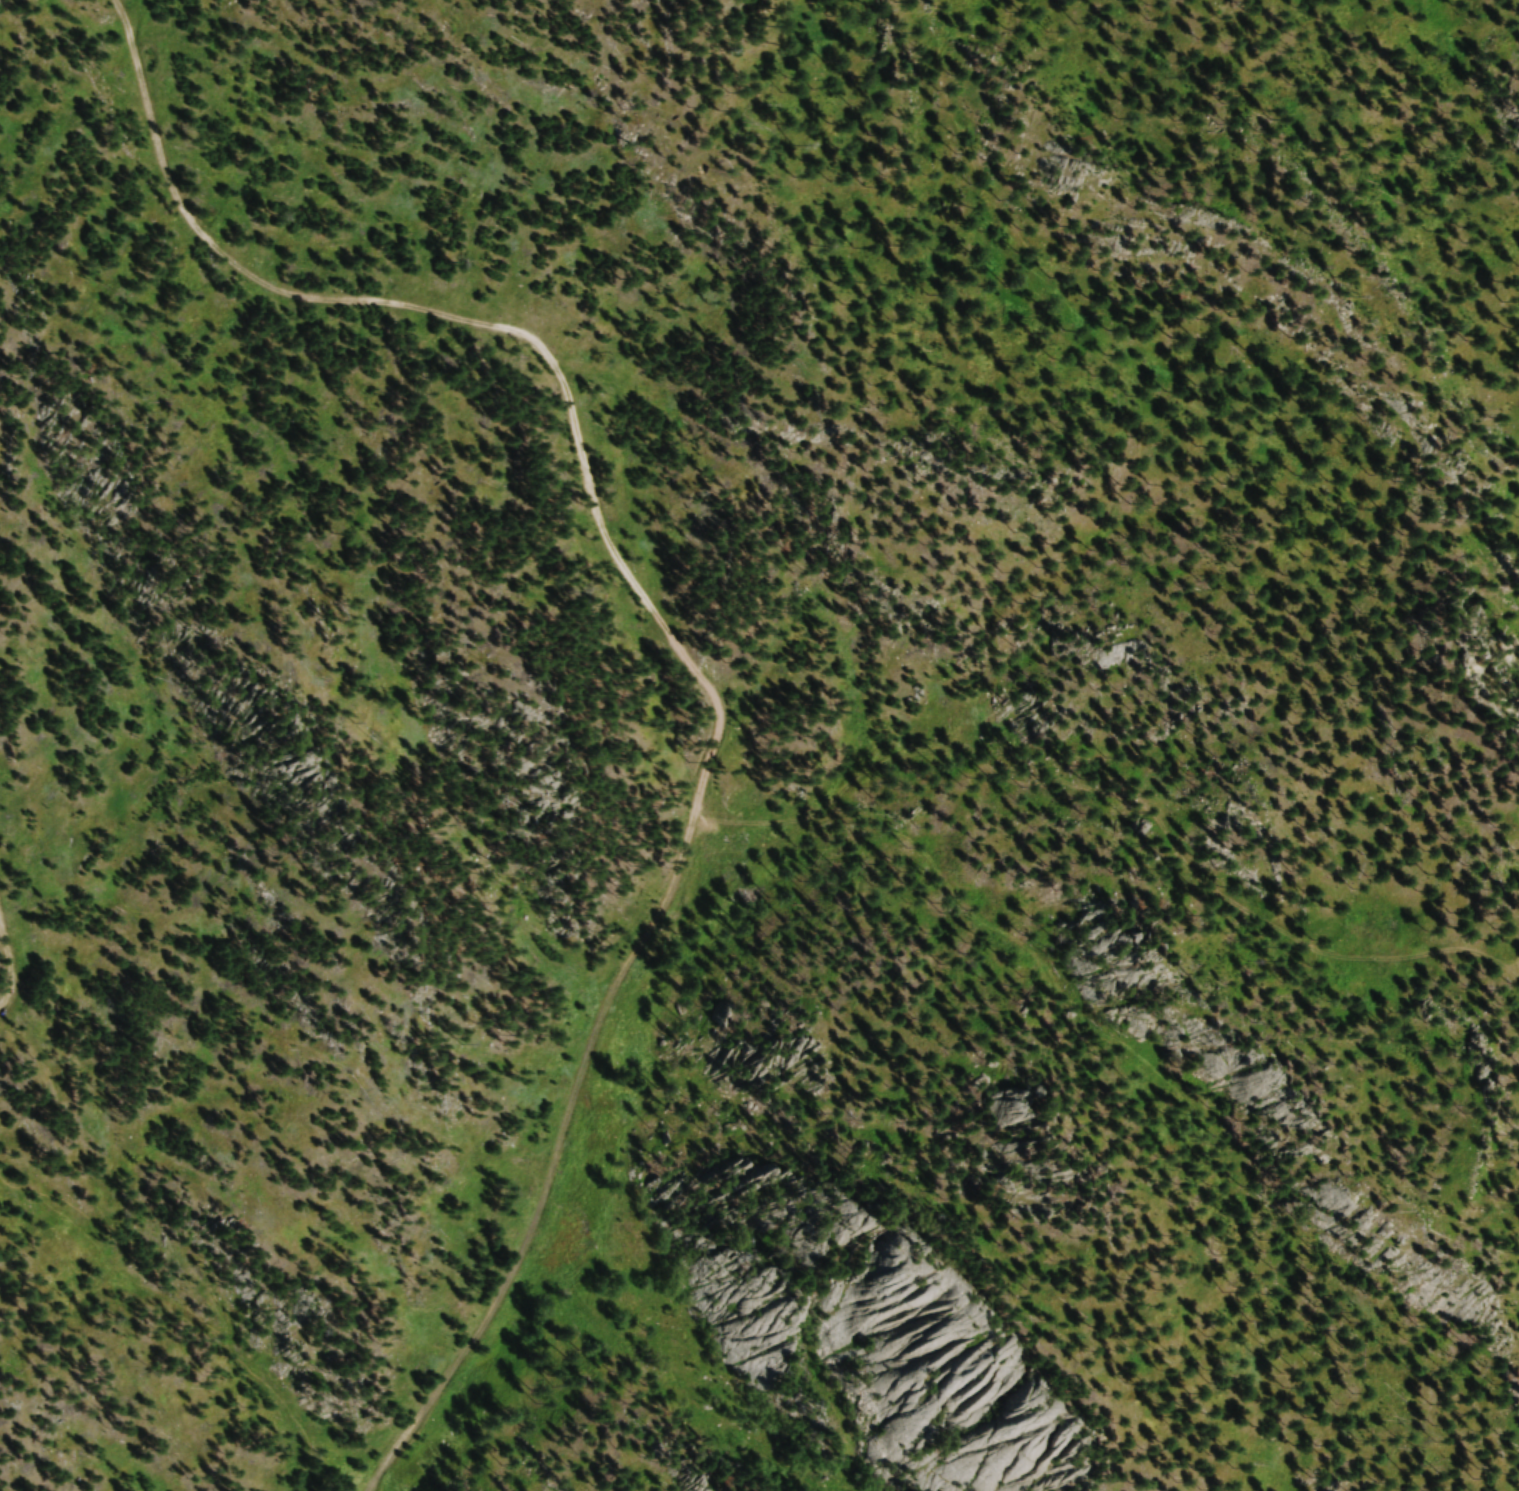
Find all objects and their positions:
road: (671, 641)
road: (1121, 800)
road: (8, 964)
building: (999, 1117)

